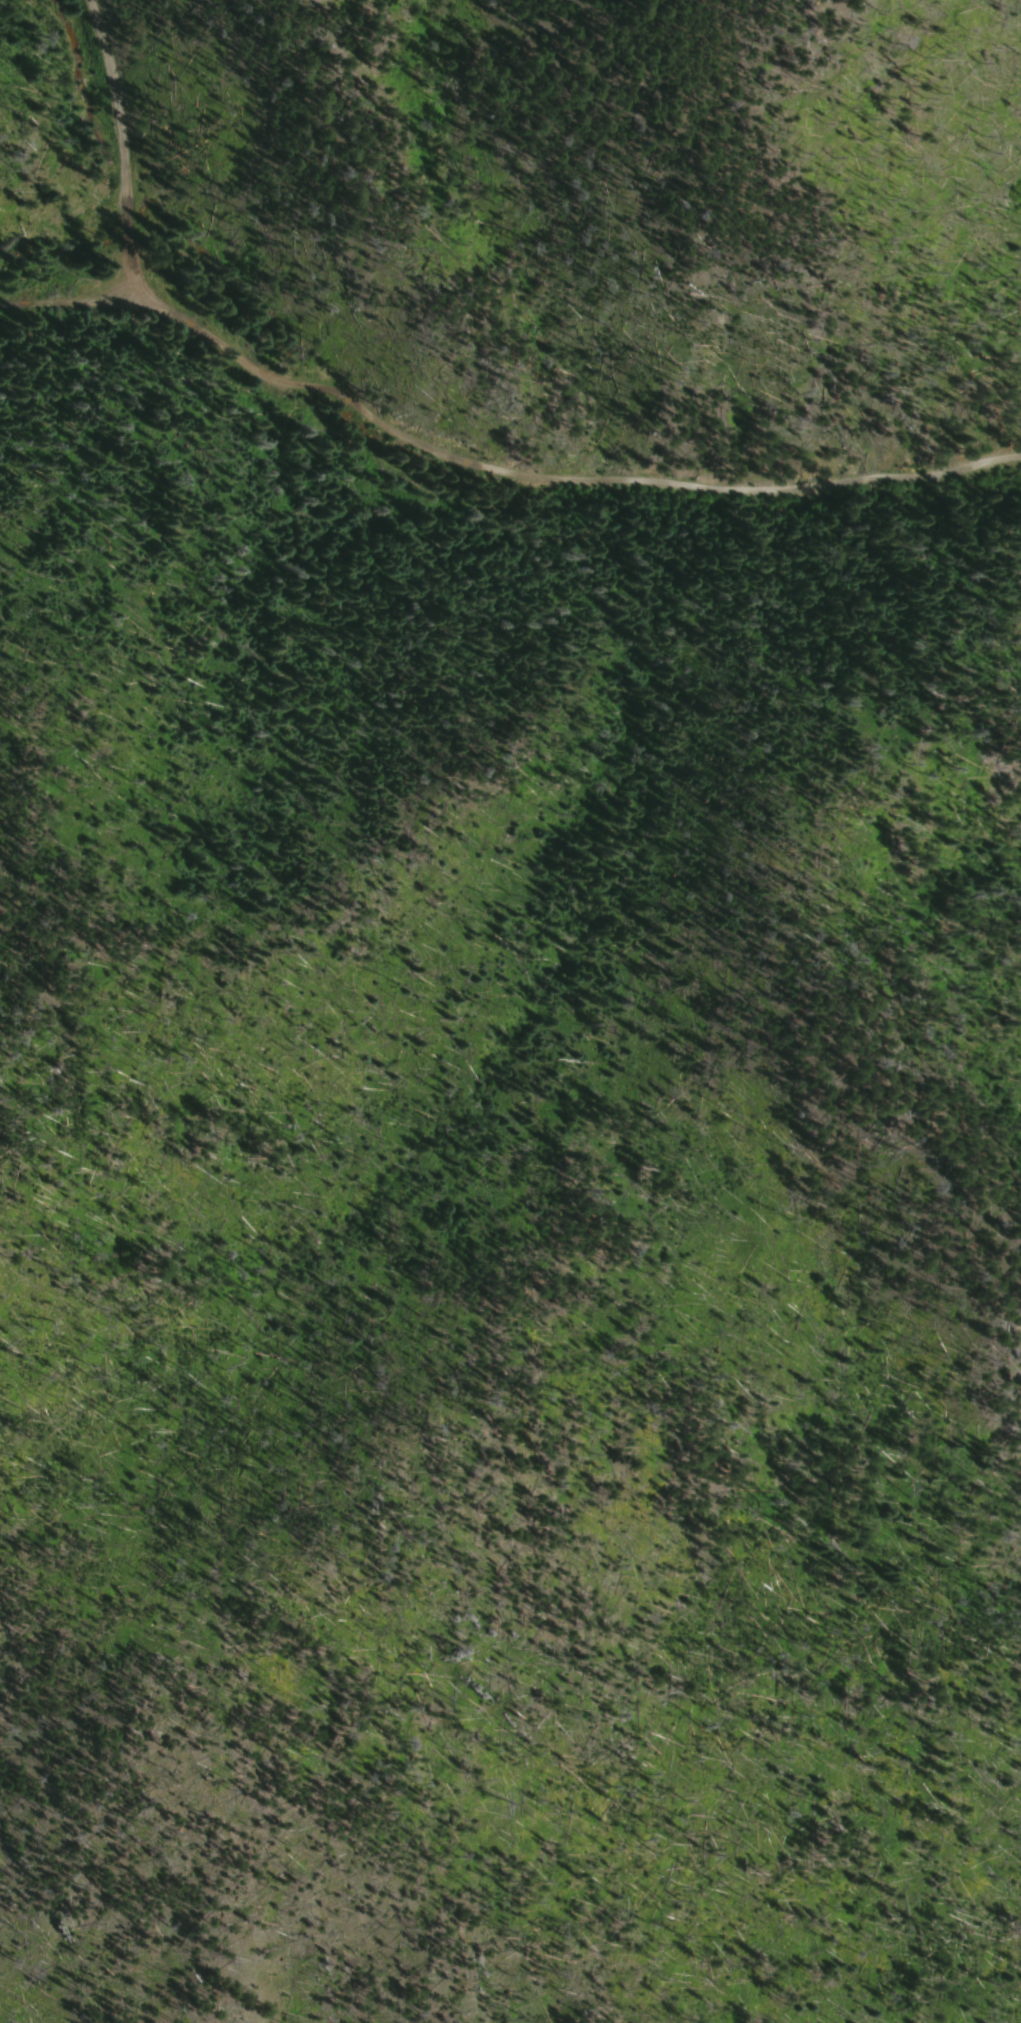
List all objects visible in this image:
road: (122, 147)
road: (493, 465)

